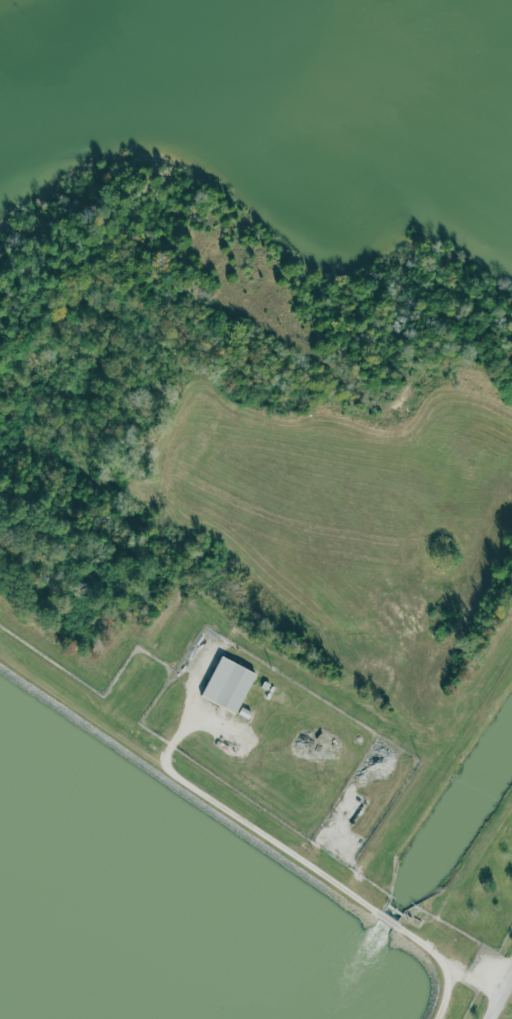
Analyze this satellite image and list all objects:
building: (228, 684)
road: (254, 827)
road: (387, 918)
road: (449, 962)
road: (447, 992)
road: (503, 1002)

